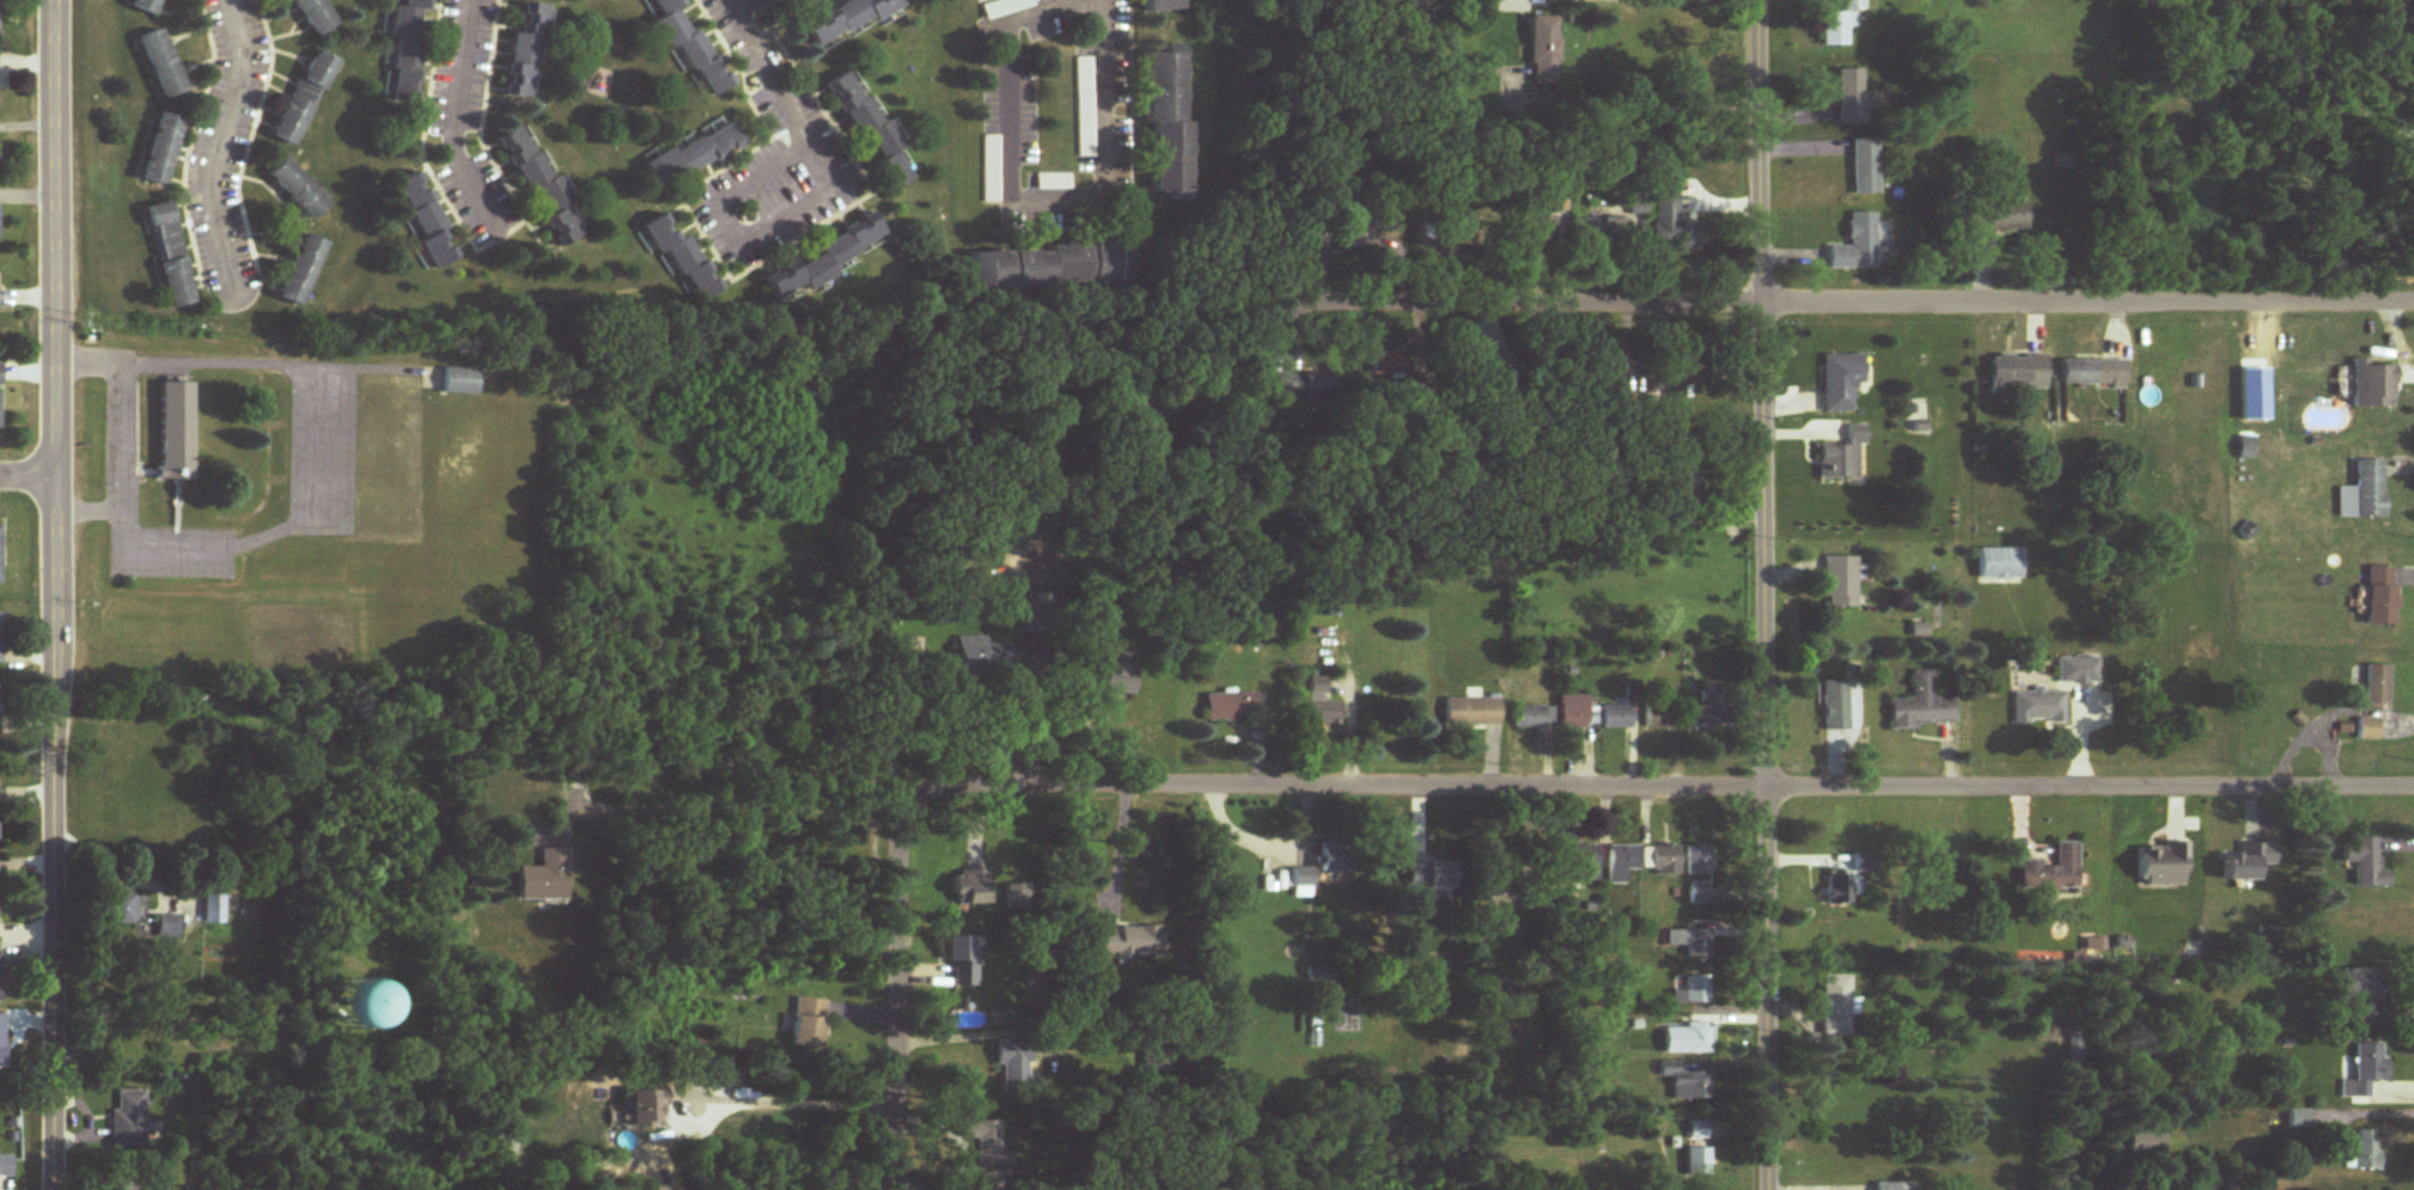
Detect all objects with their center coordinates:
building: (145, 6)
building: (1159, 6)
building: (312, 16)
building: (848, 19)
building: (1839, 24)
building: (690, 47)
building: (406, 51)
building: (1544, 51)
building: (525, 55)
building: (160, 66)
road: (1630, 97)
building: (301, 99)
building: (1853, 99)
road: (451, 122)
road: (798, 128)
building: (1165, 128)
building: (867, 133)
road: (215, 147)
building: (160, 151)
building: (693, 157)
building: (2061, 163)
building: (1863, 169)
building: (537, 185)
building: (297, 191)
building: (1557, 203)
building: (1636, 205)
road: (1029, 206)
building: (1995, 218)
building: (427, 224)
building: (1672, 226)
building: (1609, 227)
building: (1854, 246)
building: (169, 256)
building: (681, 260)
building: (823, 262)
building: (1051, 269)
building: (301, 271)
road: (1877, 298)
road: (1262, 337)
building: (1386, 364)
building: (2018, 373)
building: (2092, 373)
building: (461, 382)
building: (1839, 382)
building: (1299, 385)
building: (2372, 385)
building: (1121, 405)
building: (175, 431)
road: (110, 432)
road: (316, 452)
building: (1842, 457)
road: (24, 478)
building: (2364, 493)
building: (1660, 520)
building: (1999, 565)
building: (1839, 581)
road: (49, 594)
road: (1764, 594)
building: (2381, 596)
building: (0, 639)
building: (982, 655)
building: (2077, 670)
building: (1118, 671)
building: (2376, 688)
building: (1319, 704)
building: (1836, 706)
building: (1922, 706)
building: (1231, 707)
building: (1708, 708)
building: (2038, 708)
building: (1470, 712)
building: (1574, 713)
building: (1531, 718)
building: (1614, 718)
building: (1657, 718)
building: (2367, 730)
road: (1645, 787)
road: (1117, 858)
building: (1335, 858)
building: (1660, 860)
building: (1620, 861)
building: (1697, 861)
building: (2364, 862)
building: (1580, 863)
building: (2243, 863)
building: (1861, 865)
building: (2160, 865)
building: (2052, 871)
building: (1429, 873)
building: (544, 878)
building: (1302, 881)
building: (969, 887)
building: (1840, 889)
building: (1699, 896)
building: (1024, 897)
building: (209, 905)
building: (120, 908)
building: (164, 927)
building: (1130, 940)
building: (1690, 942)
building: (961, 954)
building: (1319, 978)
building: (1693, 990)
building: (2364, 995)
building: (346, 1002)
building: (1835, 1006)
road: (897, 1009)
building: (807, 1023)
building: (1685, 1038)
building: (1, 1041)
building: (1012, 1062)
building: (1156, 1062)
building: (2363, 1069)
building: (1685, 1082)
road: (798, 1097)
building: (645, 1107)
building: (129, 1121)
building: (1697, 1131)
building: (2364, 1149)
building: (1697, 1161)
building: (6, 1164)
building: (139, 1184)
building: (1892, 1186)

